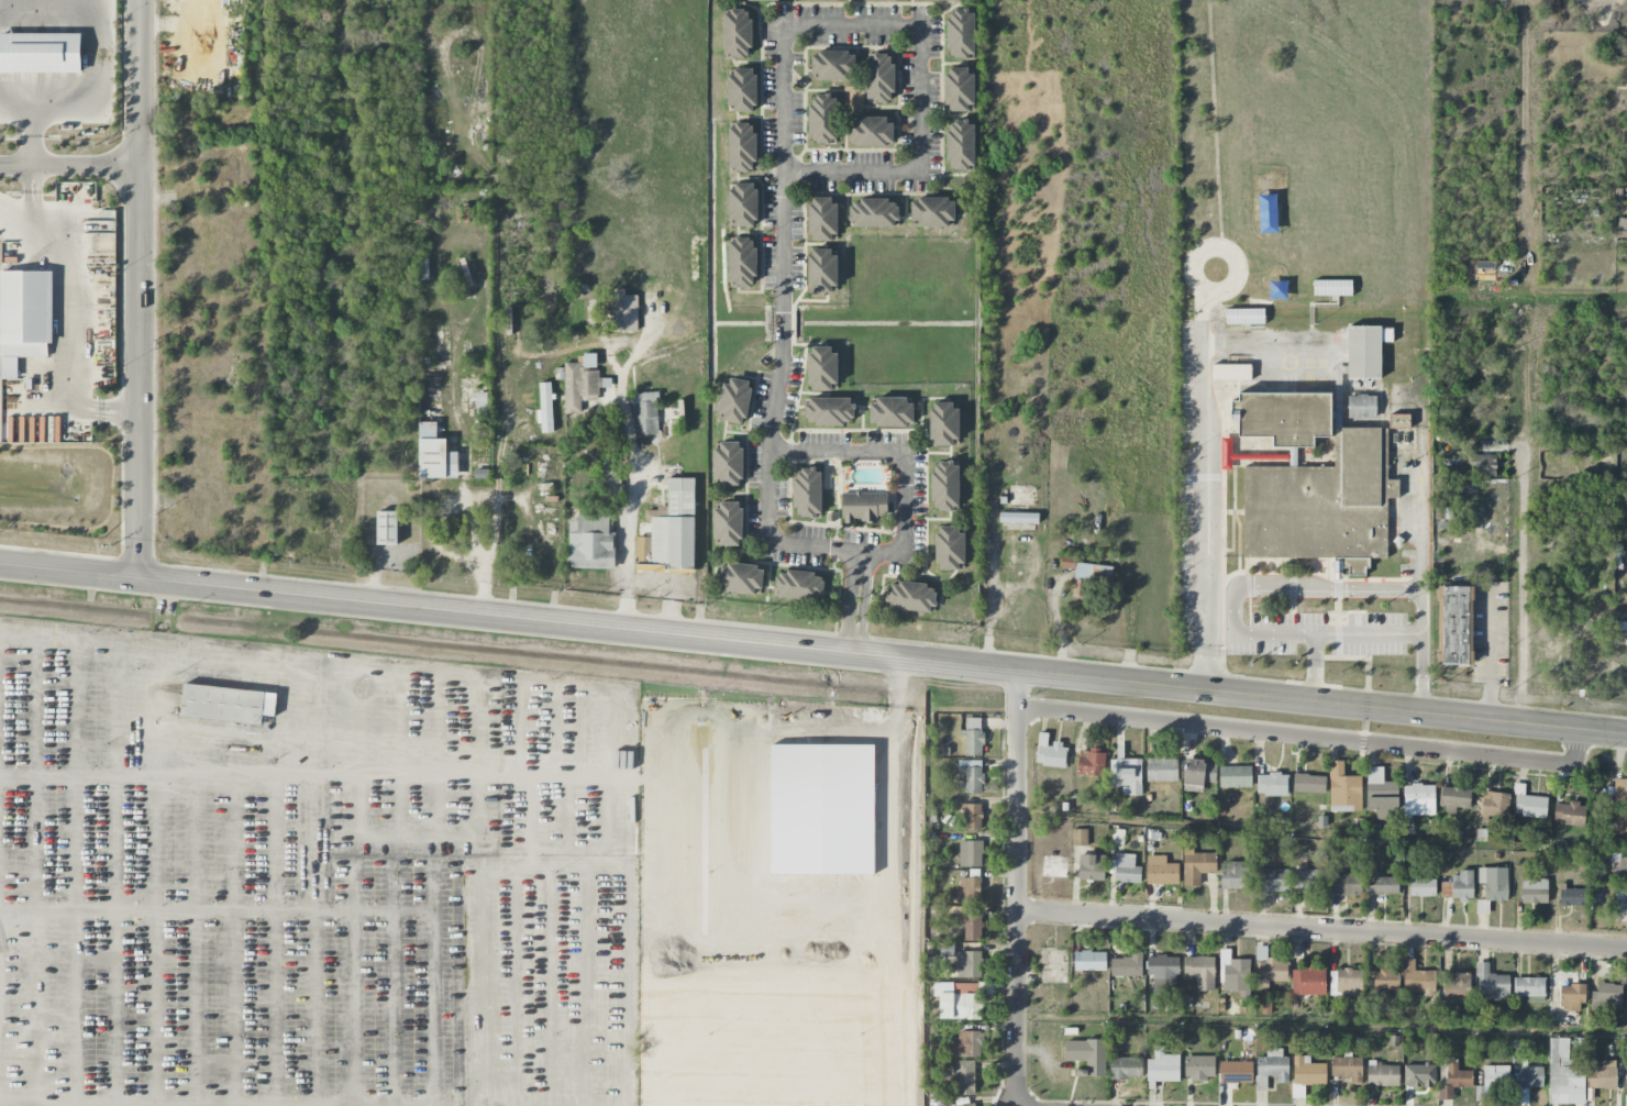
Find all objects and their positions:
building: (746, 0)
building: (830, 0)
building: (896, 0)
building: (737, 34)
building: (961, 34)
building: (41, 53)
building: (833, 65)
building: (879, 79)
building: (742, 90)
building: (959, 90)
road: (80, 97)
building: (822, 119)
building: (872, 132)
building: (961, 145)
building: (741, 148)
road: (68, 163)
road: (783, 174)
building: (742, 203)
building: (933, 212)
building: (875, 213)
building: (822, 220)
building: (1622, 228)
building: (742, 262)
building: (822, 270)
building: (464, 273)
building: (1331, 288)
road: (139, 289)
road: (62, 295)
building: (624, 313)
building: (1244, 317)
building: (24, 319)
building: (1364, 352)
road: (637, 353)
building: (821, 368)
building: (1230, 373)
building: (582, 383)
building: (734, 400)
building: (545, 407)
building: (1361, 407)
road: (1200, 408)
building: (829, 411)
road: (117, 412)
building: (892, 412)
building: (645, 413)
building: (1398, 421)
building: (943, 424)
road: (904, 454)
building: (435, 455)
building: (728, 464)
building: (1482, 465)
building: (944, 486)
building: (807, 494)
road: (630, 501)
building: (1322, 505)
building: (863, 507)
road: (497, 518)
building: (1018, 518)
building: (728, 524)
building: (386, 529)
building: (590, 543)
building: (949, 549)
building: (1086, 569)
building: (742, 578)
road: (1523, 584)
building: (798, 586)
road: (1291, 588)
building: (909, 598)
building: (1456, 626)
road: (1368, 638)
road: (813, 649)
road: (1488, 655)
road: (161, 677)
building: (228, 707)
building: (973, 738)
road: (1313, 738)
building: (1050, 752)
building: (1091, 763)
building: (1161, 770)
building: (1125, 773)
building: (1198, 773)
building: (972, 775)
road: (443, 776)
building: (1235, 776)
building: (1308, 784)
building: (1272, 785)
building: (1343, 789)
building: (1620, 790)
building: (1380, 794)
building: (1453, 798)
building: (1418, 800)
building: (1528, 804)
building: (1494, 805)
building: (1569, 815)
building: (973, 817)
building: (1620, 828)
building: (1115, 837)
building: (1080, 838)
building: (972, 854)
building: (1196, 865)
building: (1092, 867)
building: (1618, 867)
building: (1126, 870)
building: (1161, 871)
building: (1236, 876)
building: (1272, 881)
building: (1308, 881)
building: (1493, 883)
building: (1346, 884)
building: (1385, 885)
road: (1016, 887)
building: (1421, 887)
building: (1458, 887)
road: (878, 888)
building: (969, 891)
building: (1534, 892)
building: (1572, 896)
building: (1620, 902)
building: (972, 928)
road: (1321, 930)
building: (1260, 954)
building: (1089, 961)
building: (969, 964)
building: (1127, 966)
building: (1199, 972)
building: (1271, 972)
building: (1233, 973)
building: (1163, 974)
building: (1416, 978)
building: (1385, 980)
building: (1308, 981)
building: (1346, 983)
building: (1491, 983)
building: (1529, 988)
building: (1456, 991)
building: (1606, 996)
building: (1571, 997)
building: (958, 1002)
building: (967, 1044)
building: (1087, 1055)
building: (1162, 1068)
building: (1199, 1068)
building: (1126, 1069)
building: (1271, 1069)
building: (1347, 1069)
building: (1563, 1070)
building: (1236, 1072)
building: (1307, 1072)
building: (1600, 1072)
building: (1381, 1074)
building: (1495, 1075)
building: (963, 1077)
building: (1530, 1077)
building: (1453, 1081)
building: (969, 1105)

